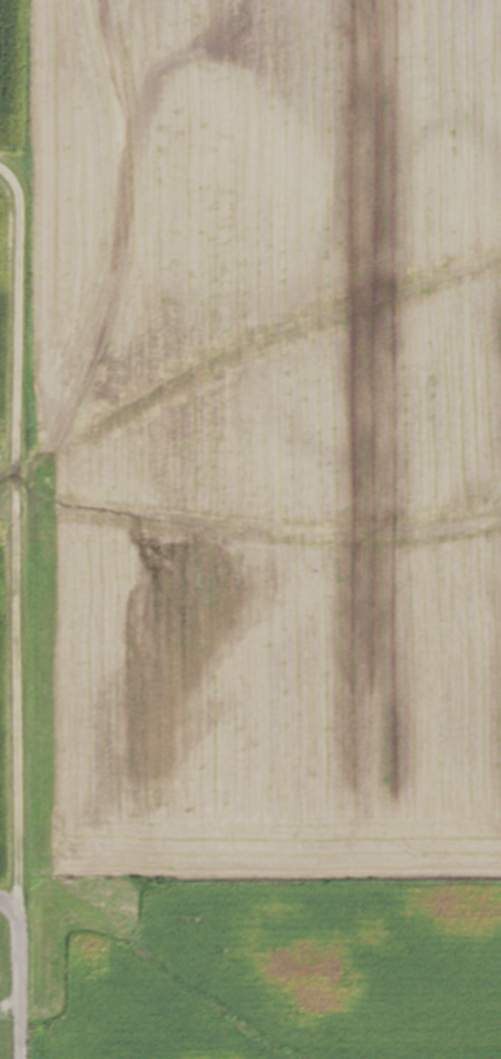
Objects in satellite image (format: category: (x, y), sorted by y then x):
road: (12, 614)
road: (7, 905)

